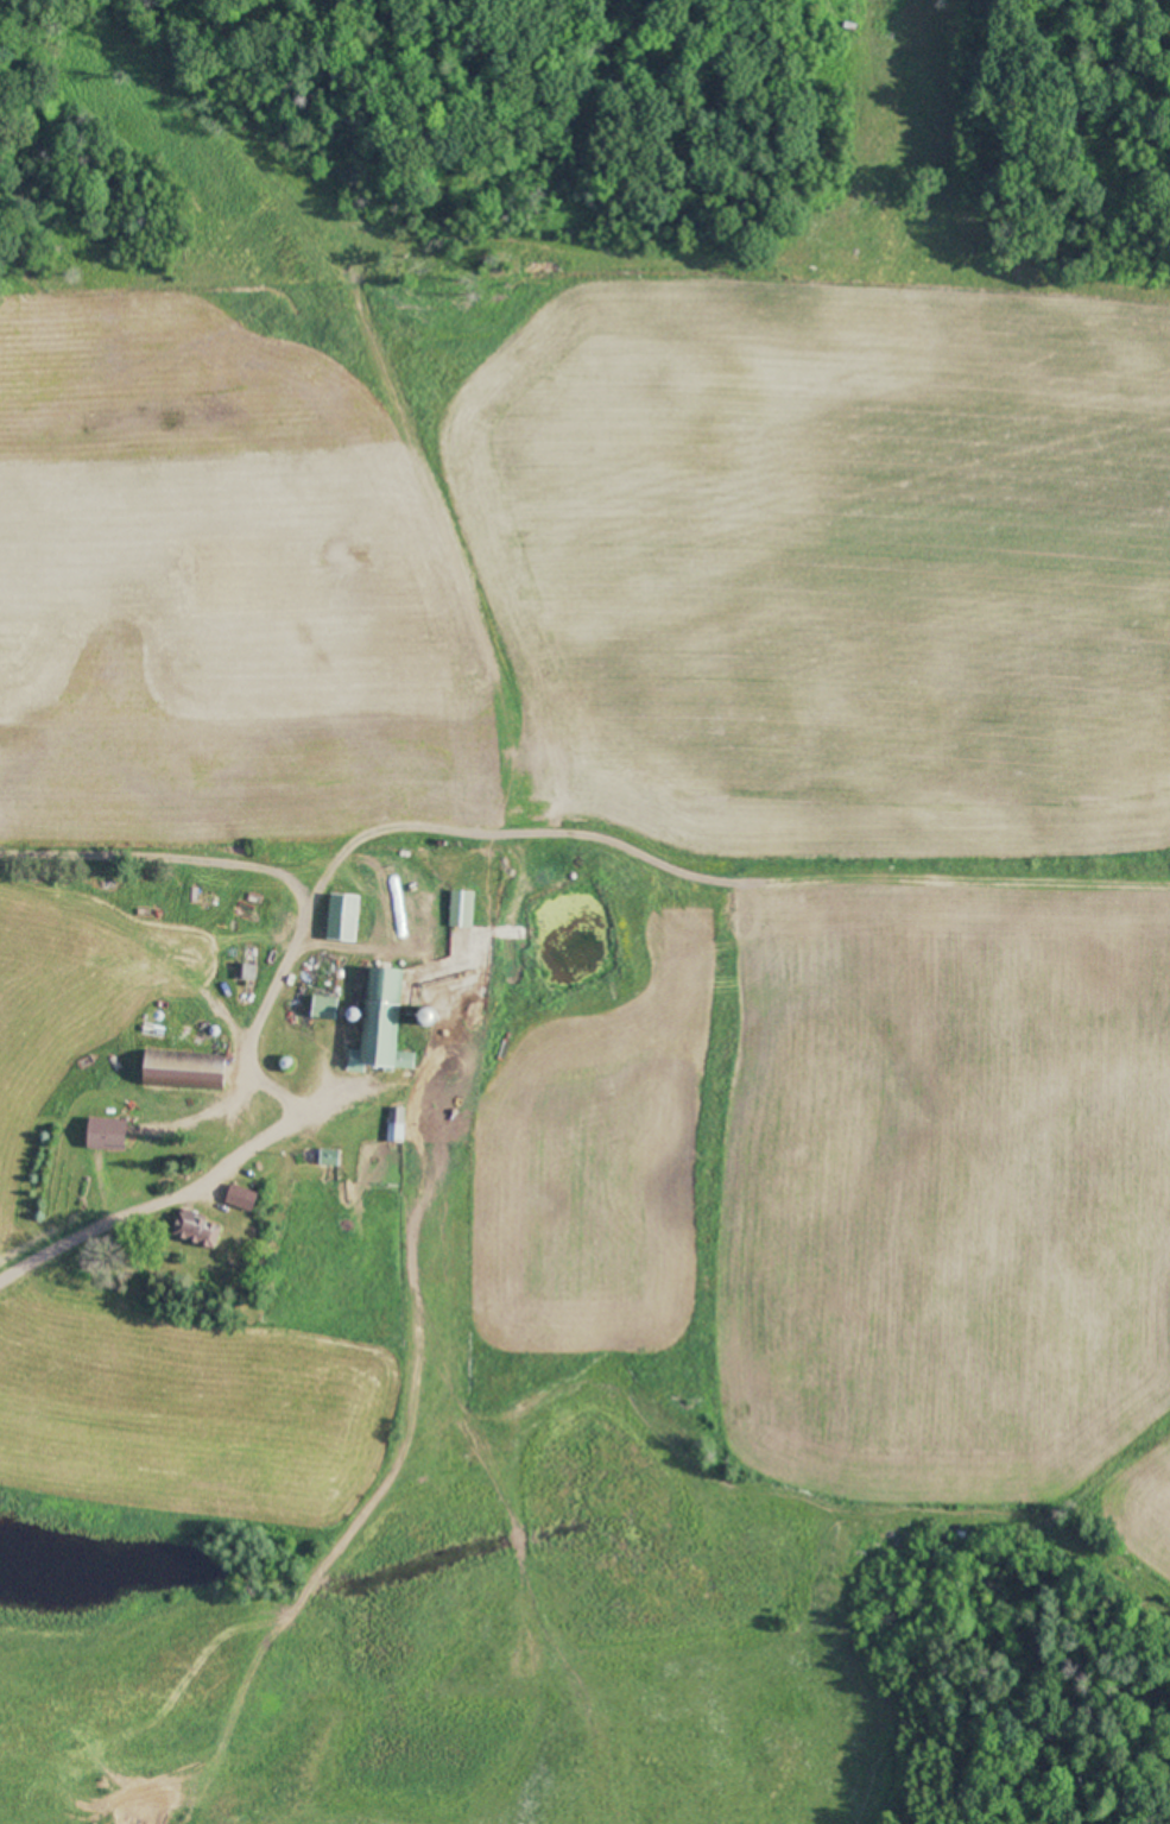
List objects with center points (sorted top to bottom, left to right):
building: (461, 908)
building: (342, 916)
building: (248, 971)
building: (323, 1006)
building: (380, 1022)
building: (182, 1071)
building: (394, 1123)
building: (105, 1134)
building: (329, 1156)
road: (210, 1194)
building: (240, 1197)
building: (195, 1229)

